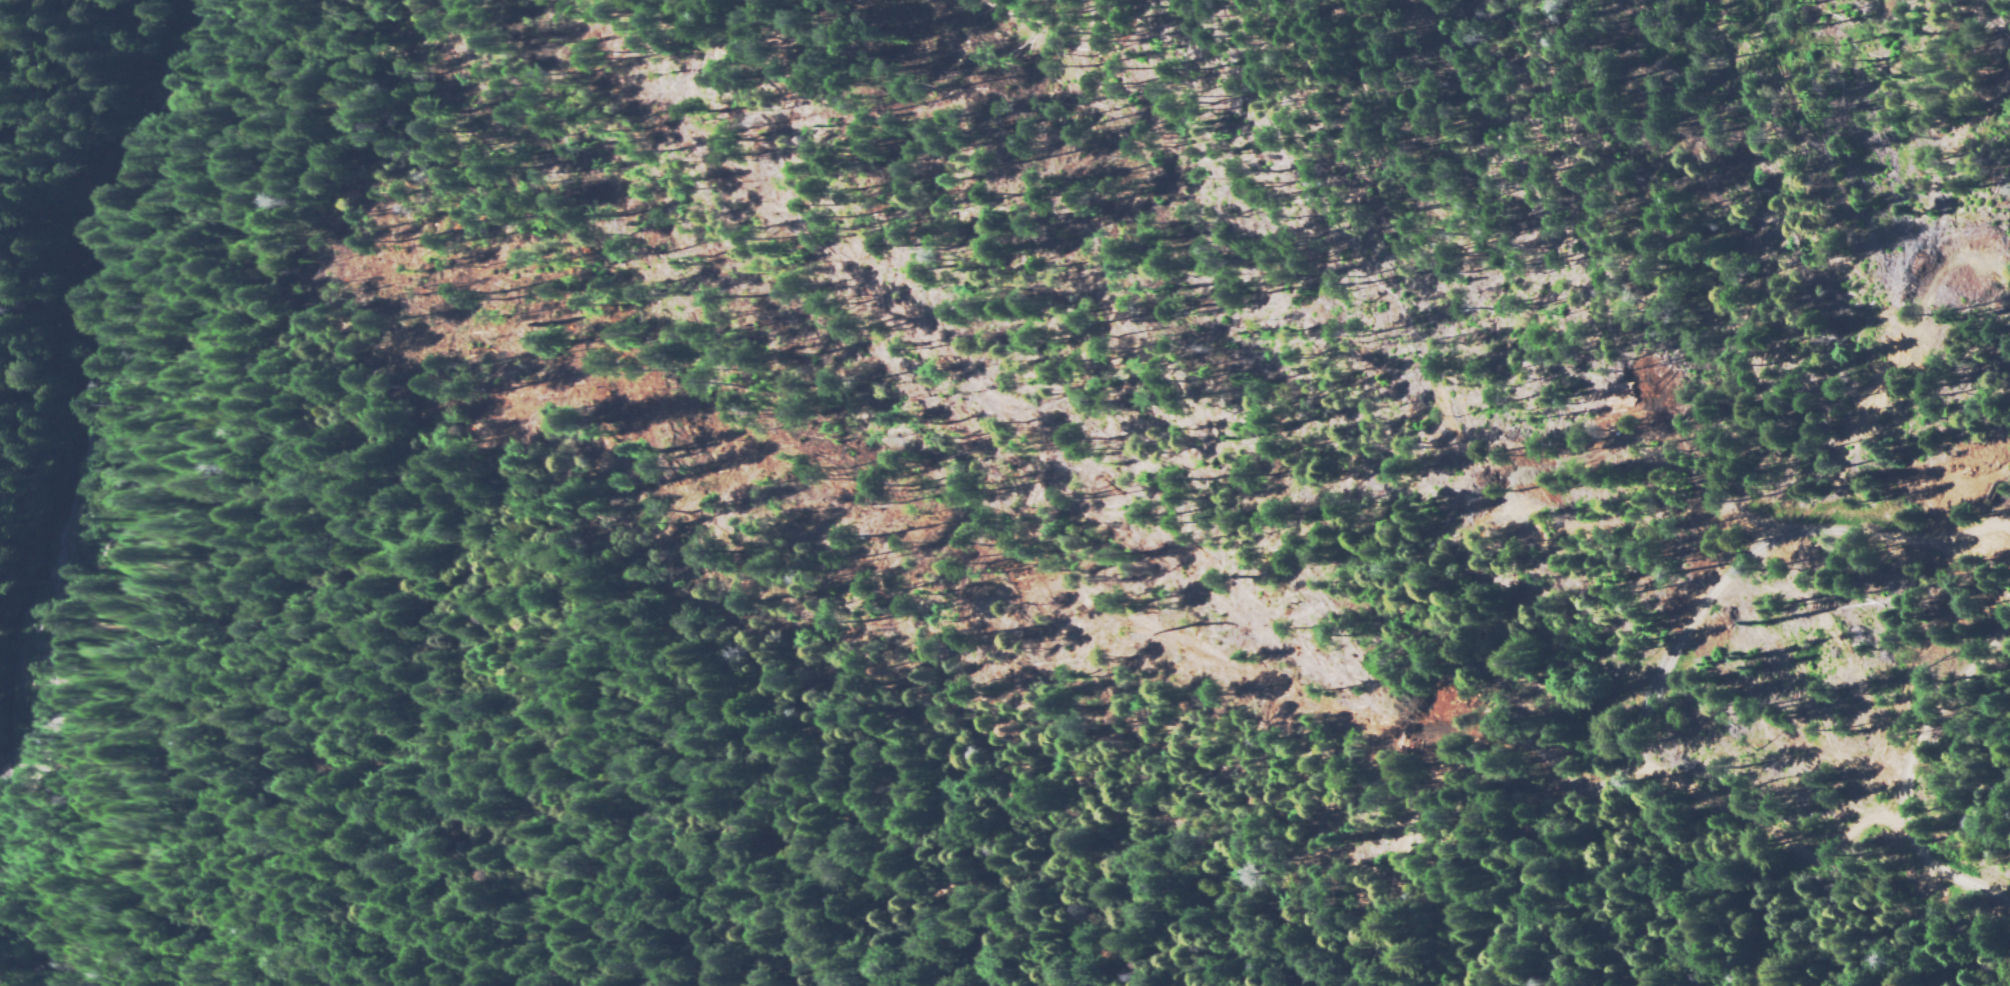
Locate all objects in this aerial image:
river: (60, 305)

